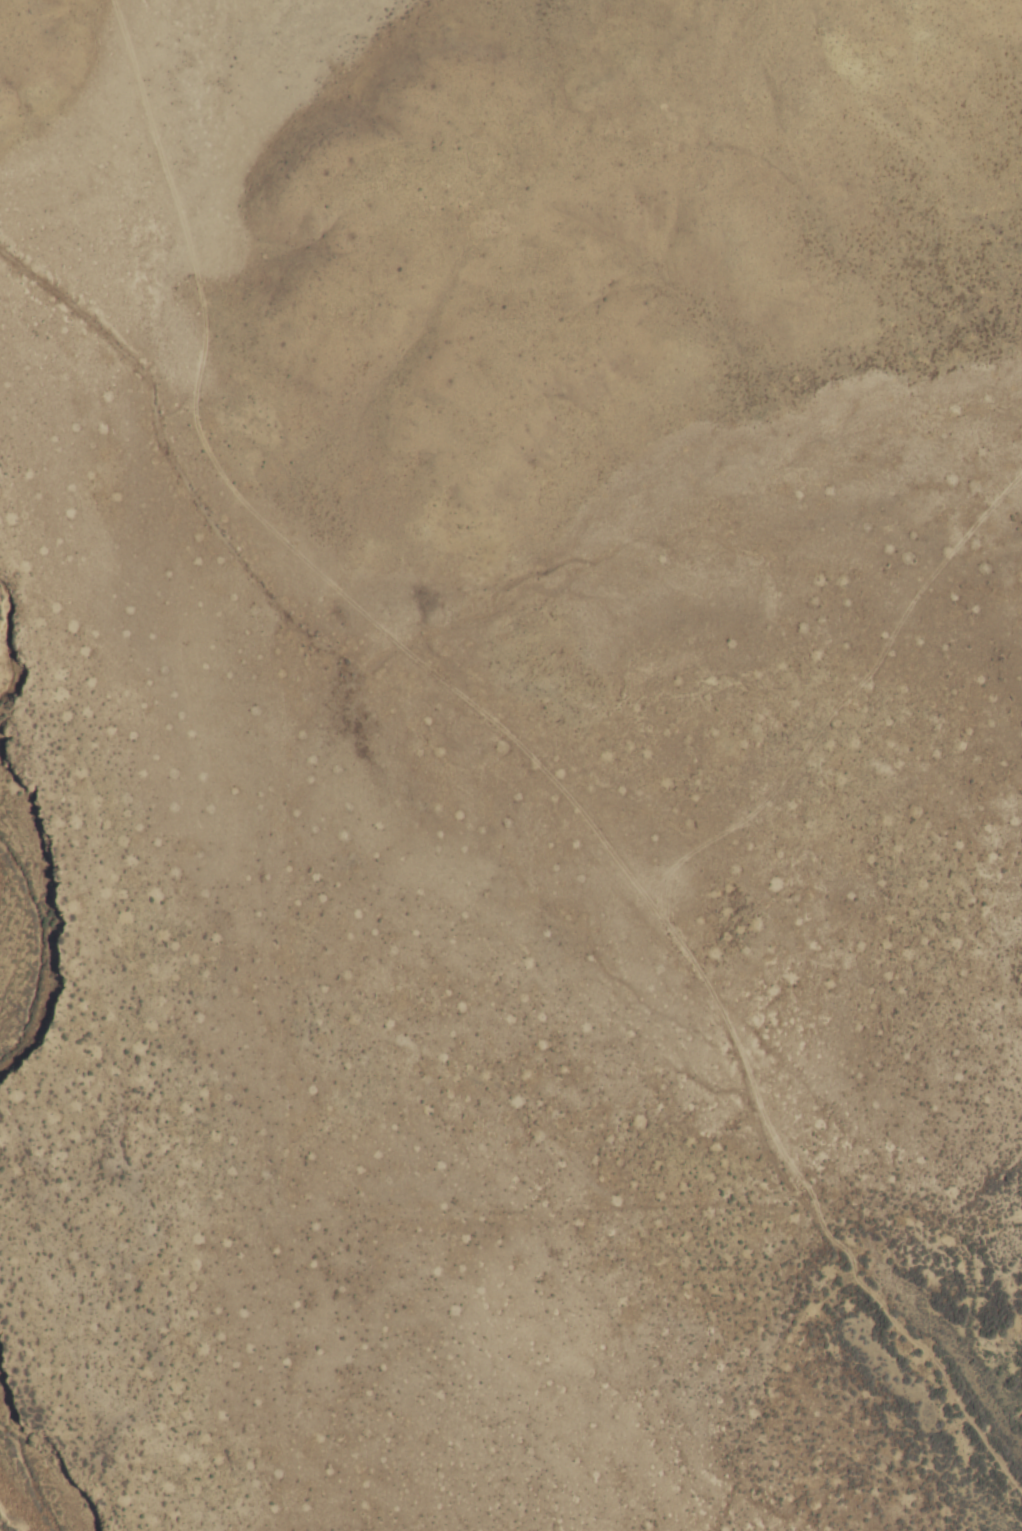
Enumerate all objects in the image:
road: (526, 745)
river: (17, 1503)

